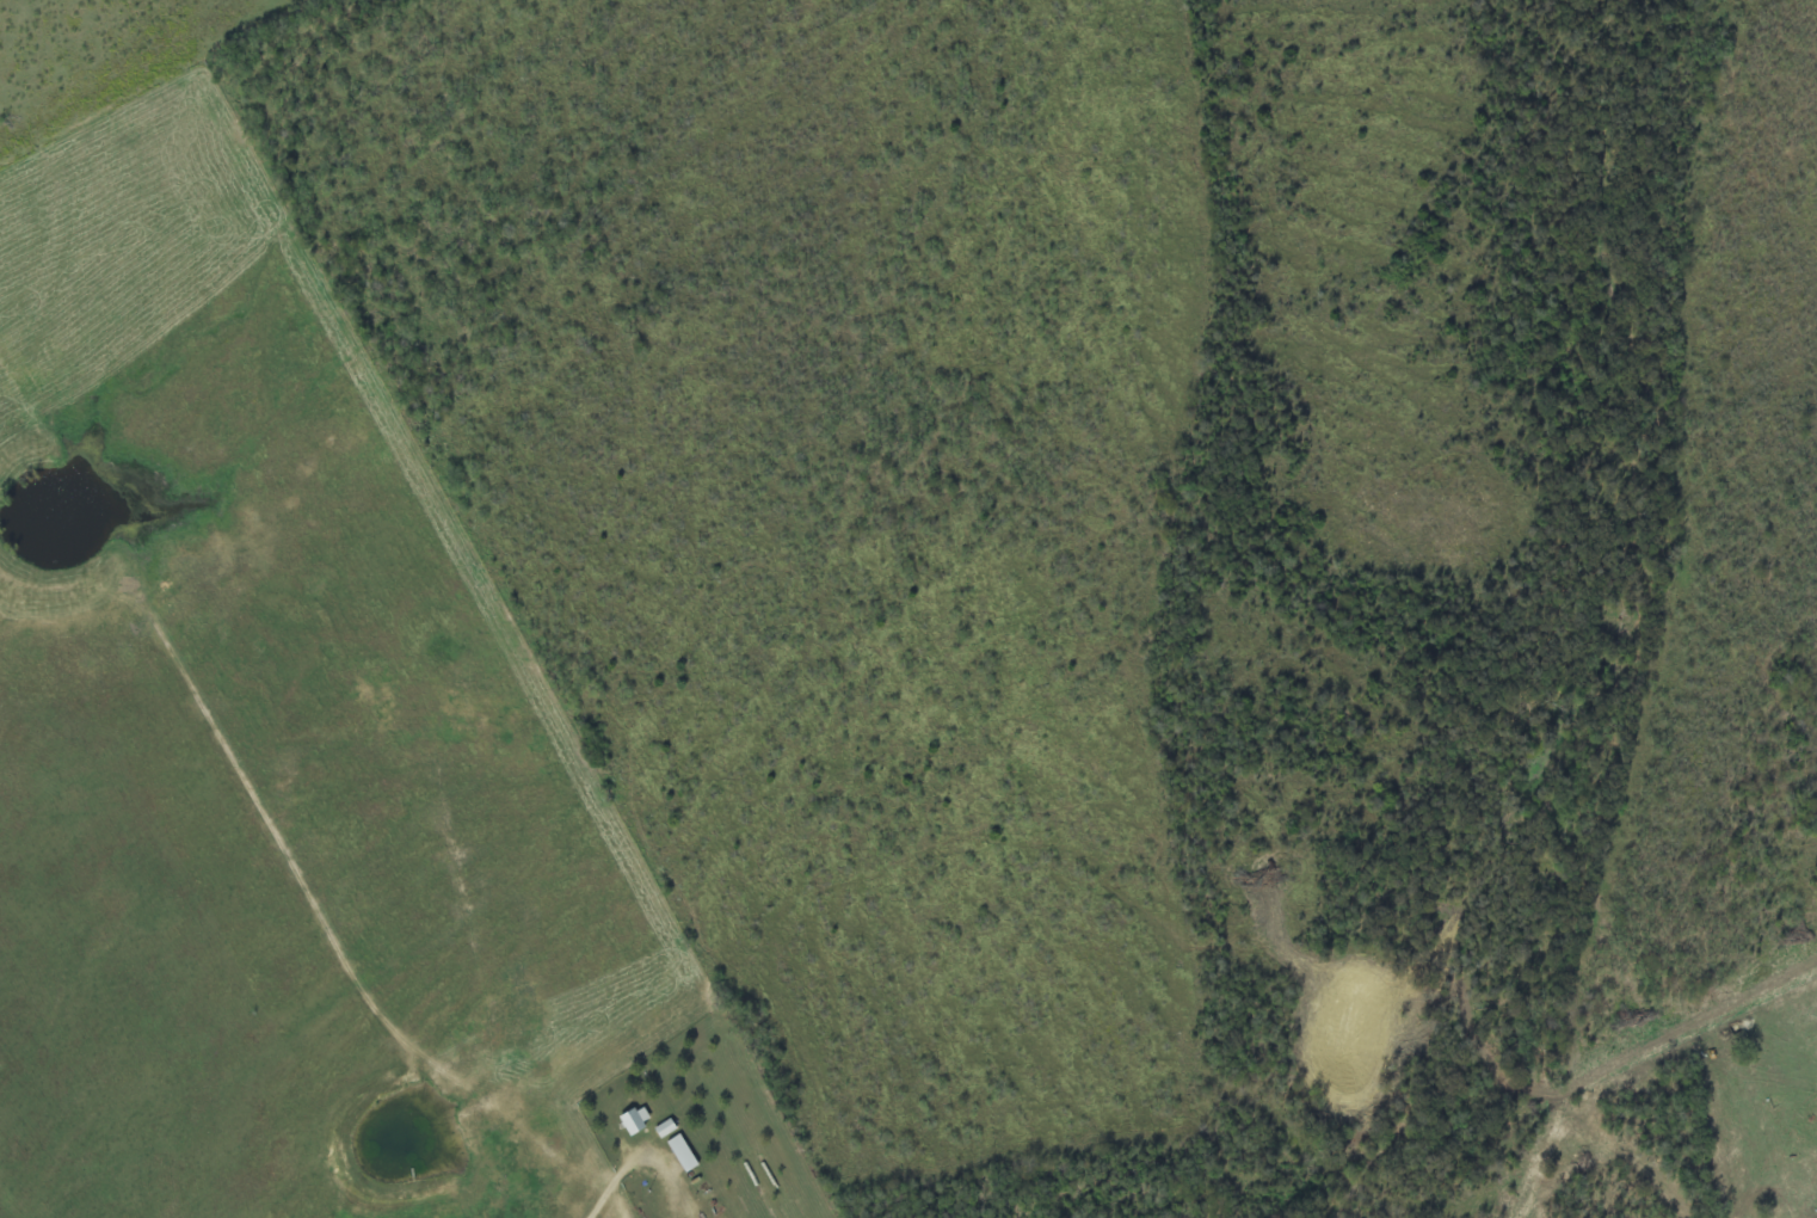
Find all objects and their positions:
building: (635, 1120)
road: (1713, 1134)

